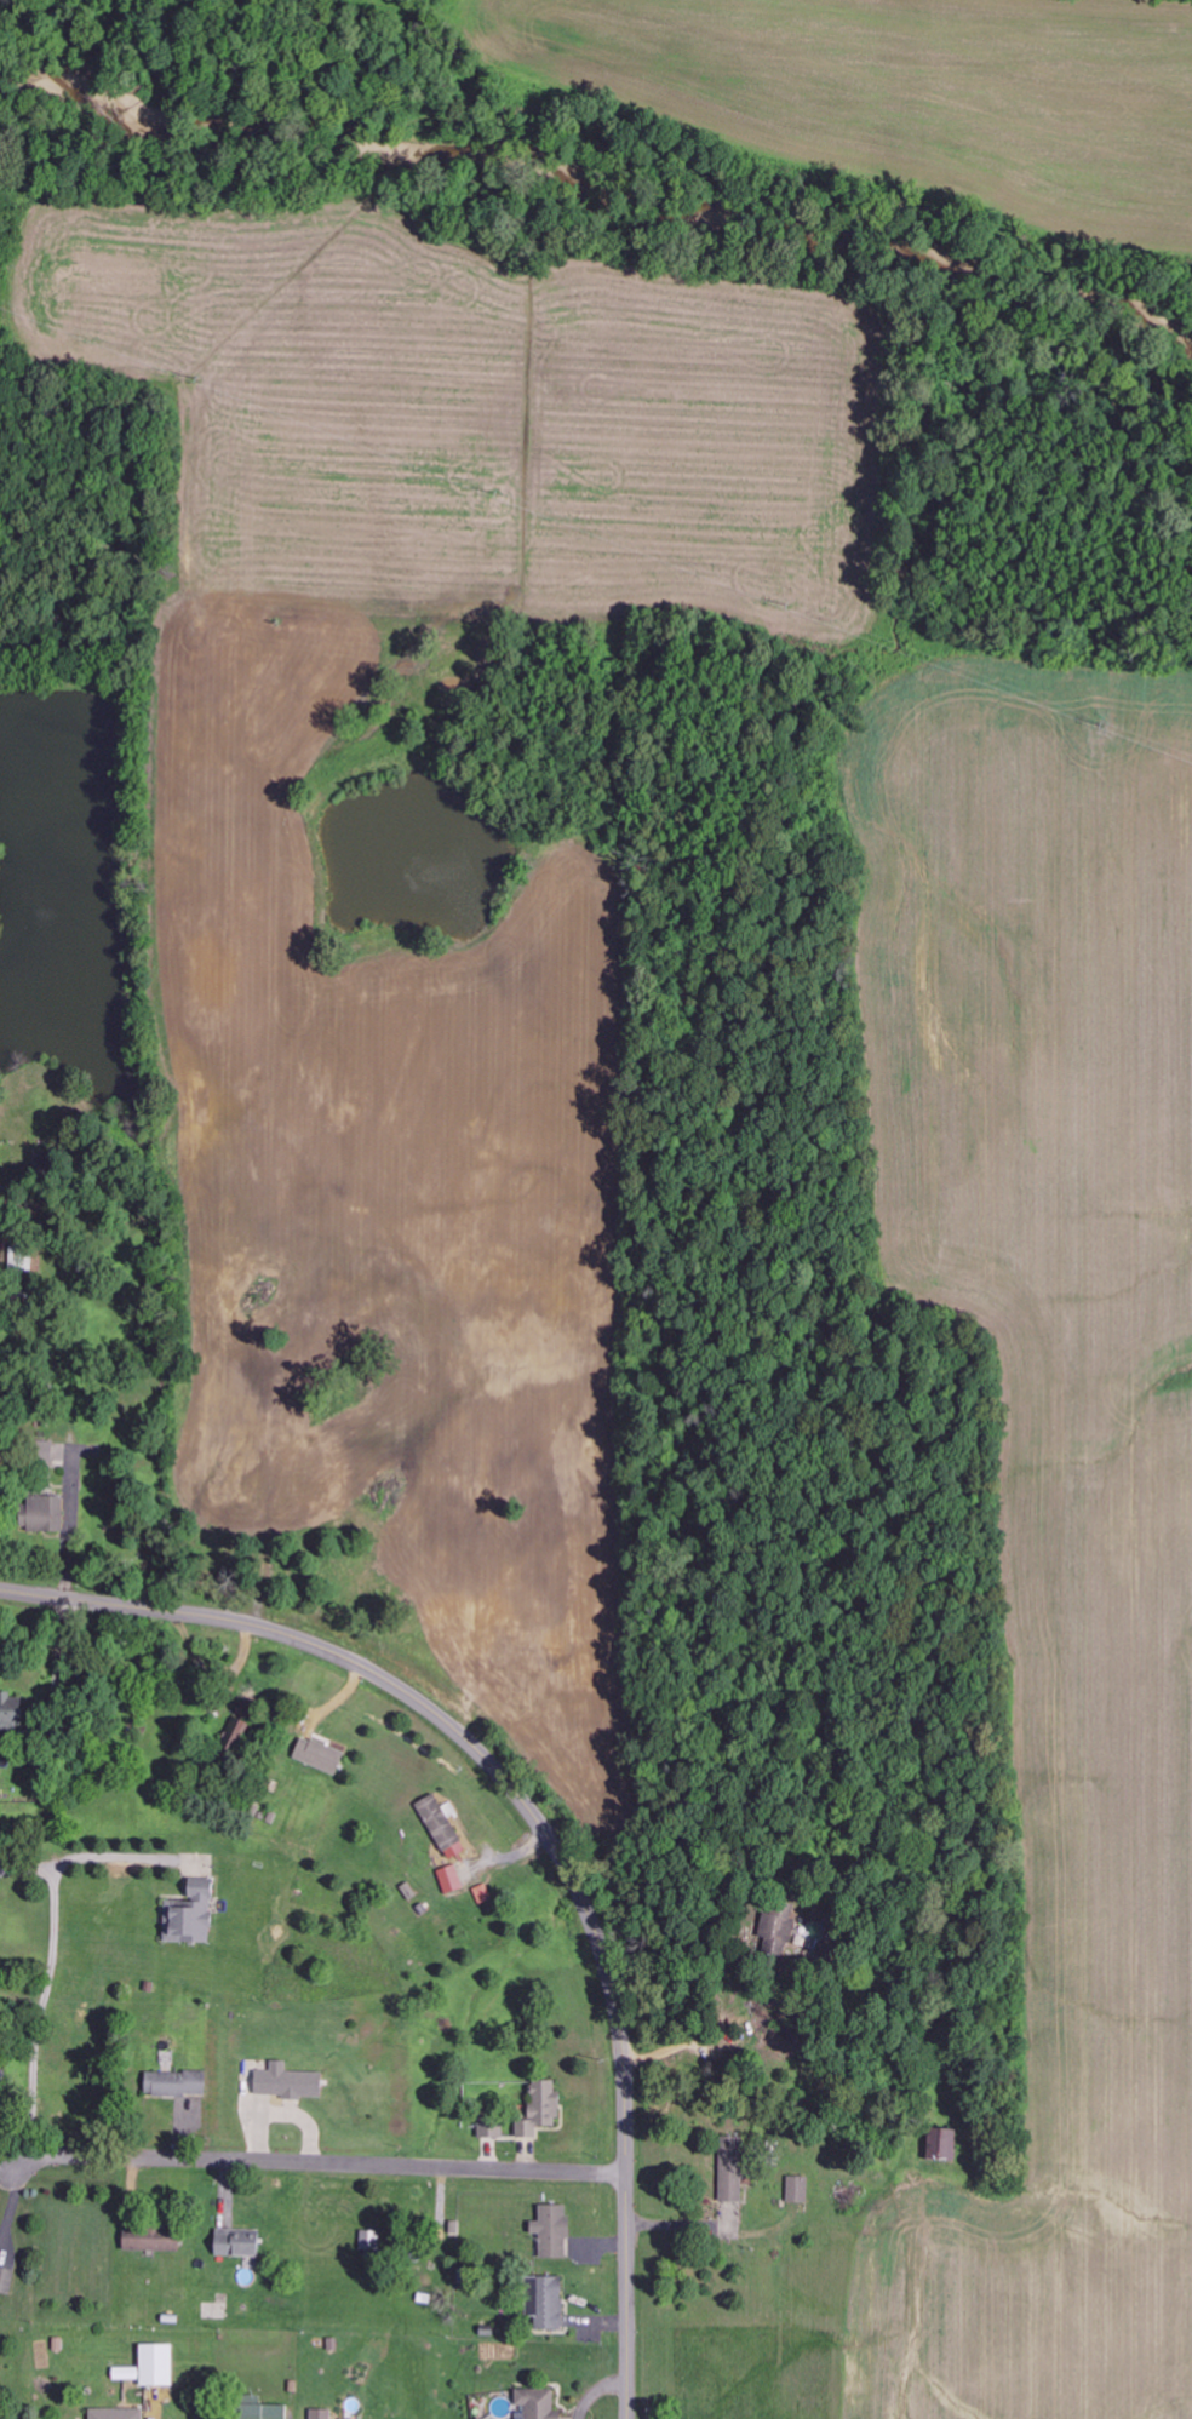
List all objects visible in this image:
road: (47, 1120)
building: (45, 1512)
building: (12, 1716)
building: (321, 1755)
road: (538, 1824)
building: (445, 1825)
building: (452, 1879)
building: (193, 1914)
building: (776, 1930)
building: (2, 2080)
building: (290, 2082)
building: (177, 2083)
building: (499, 2128)
road: (13, 2138)
building: (942, 2144)
road: (311, 2161)
building: (734, 2169)
building: (800, 2189)
building: (554, 2231)
building: (154, 2239)
building: (372, 2240)
building: (240, 2242)
building: (7, 2280)
building: (548, 2302)
building: (159, 2364)
building: (539, 2404)
building: (264, 2409)
building: (118, 2413)
building: (322, 2414)

